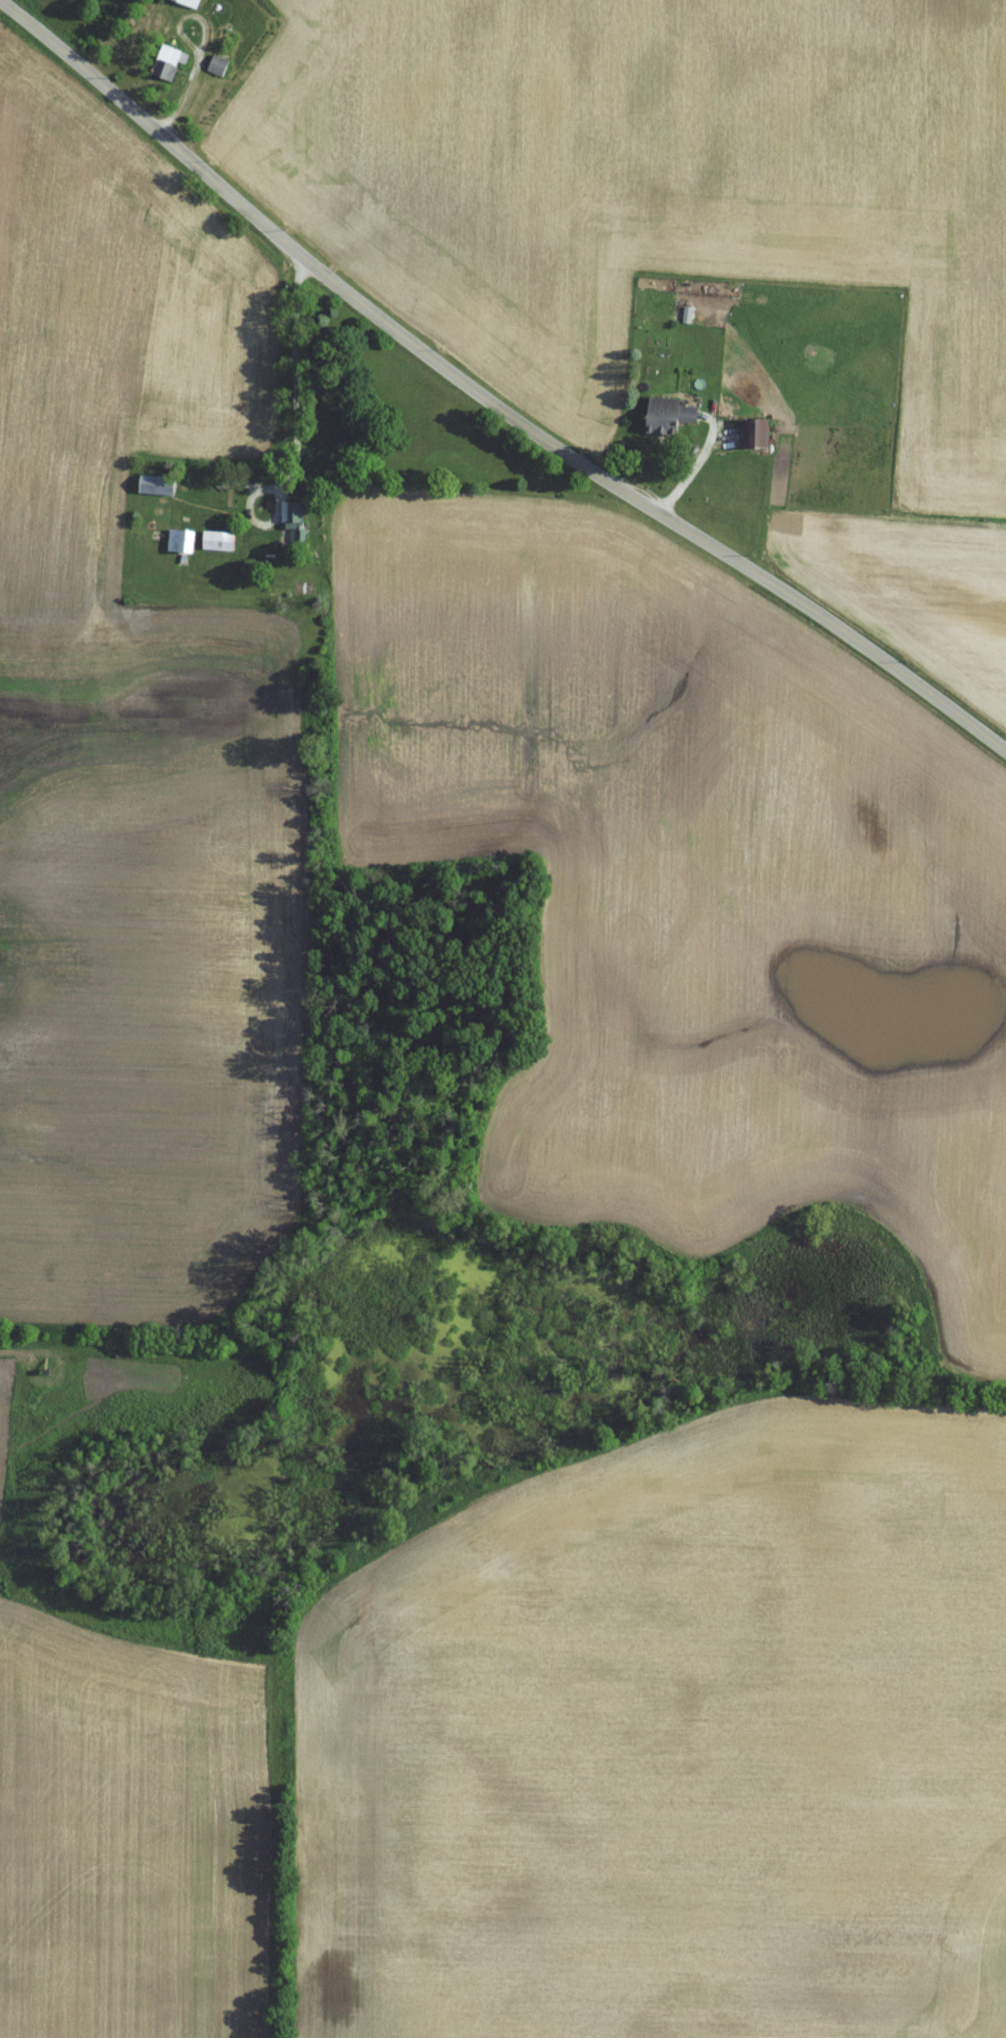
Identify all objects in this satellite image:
building: (185, 2)
road: (48, 4)
road: (199, 49)
building: (163, 60)
building: (214, 64)
road: (291, 373)
road: (486, 398)
building: (151, 484)
building: (213, 539)

